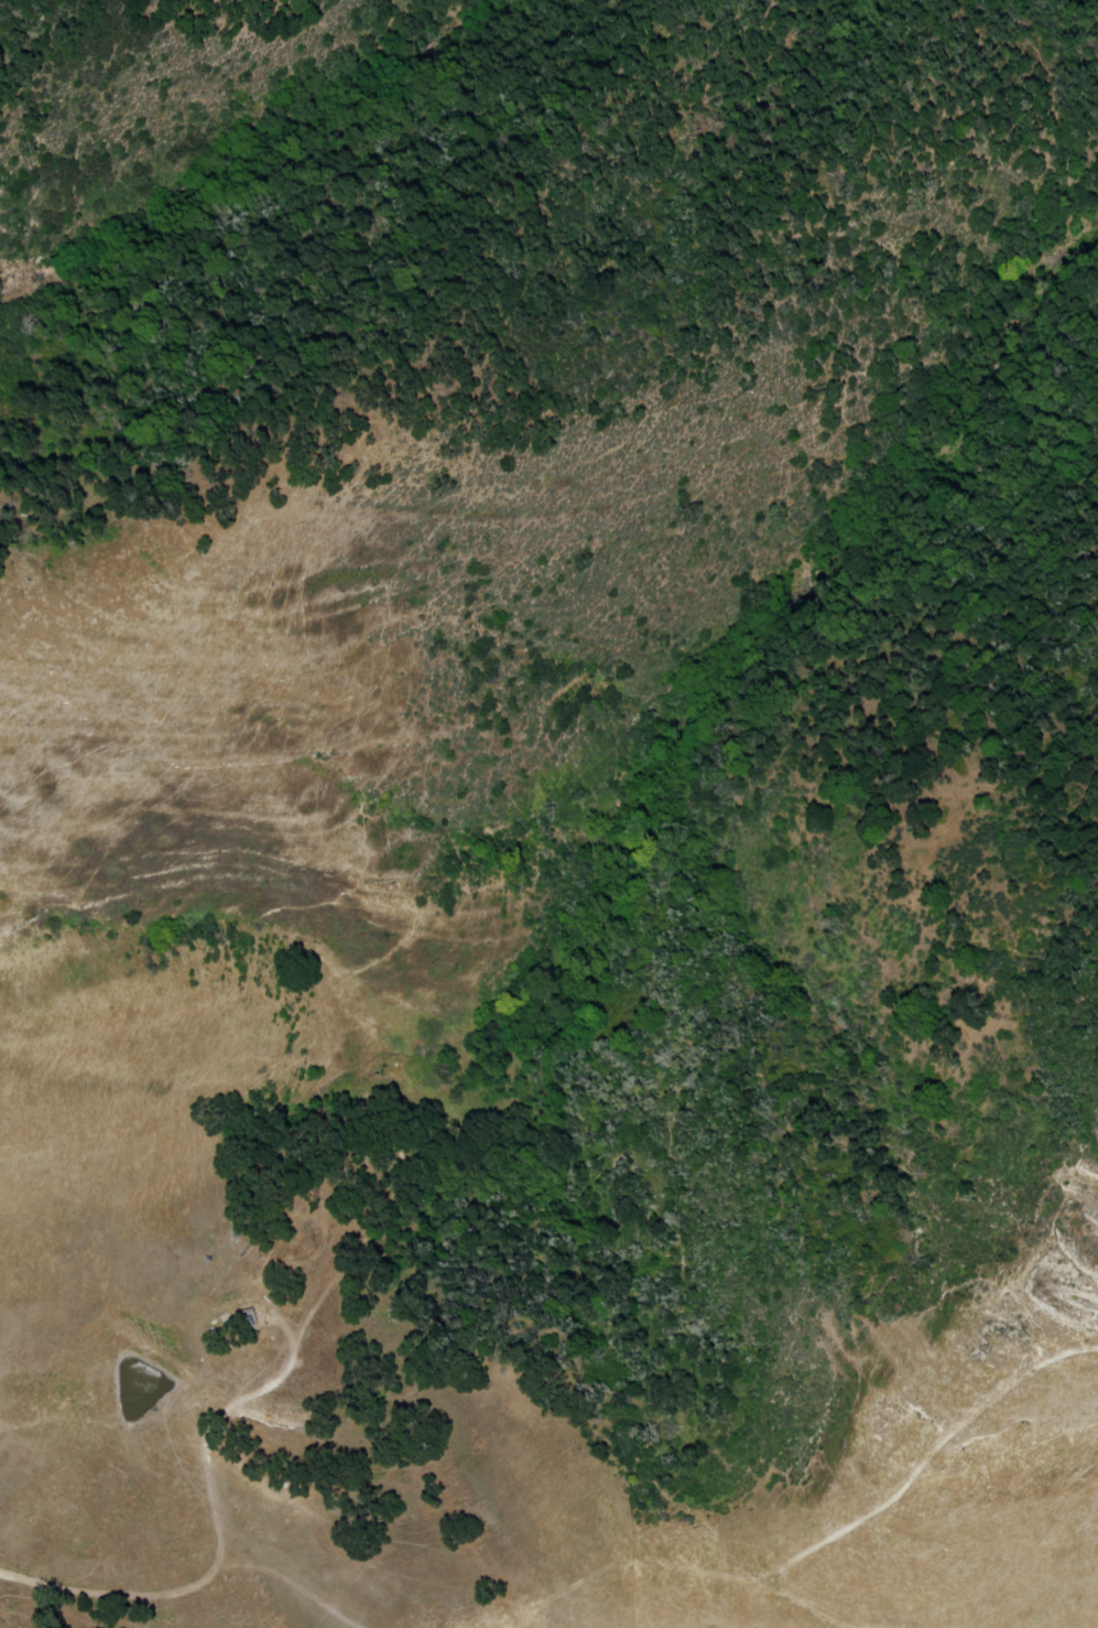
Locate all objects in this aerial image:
road: (818, 1544)
road: (187, 1589)
road: (812, 1611)

